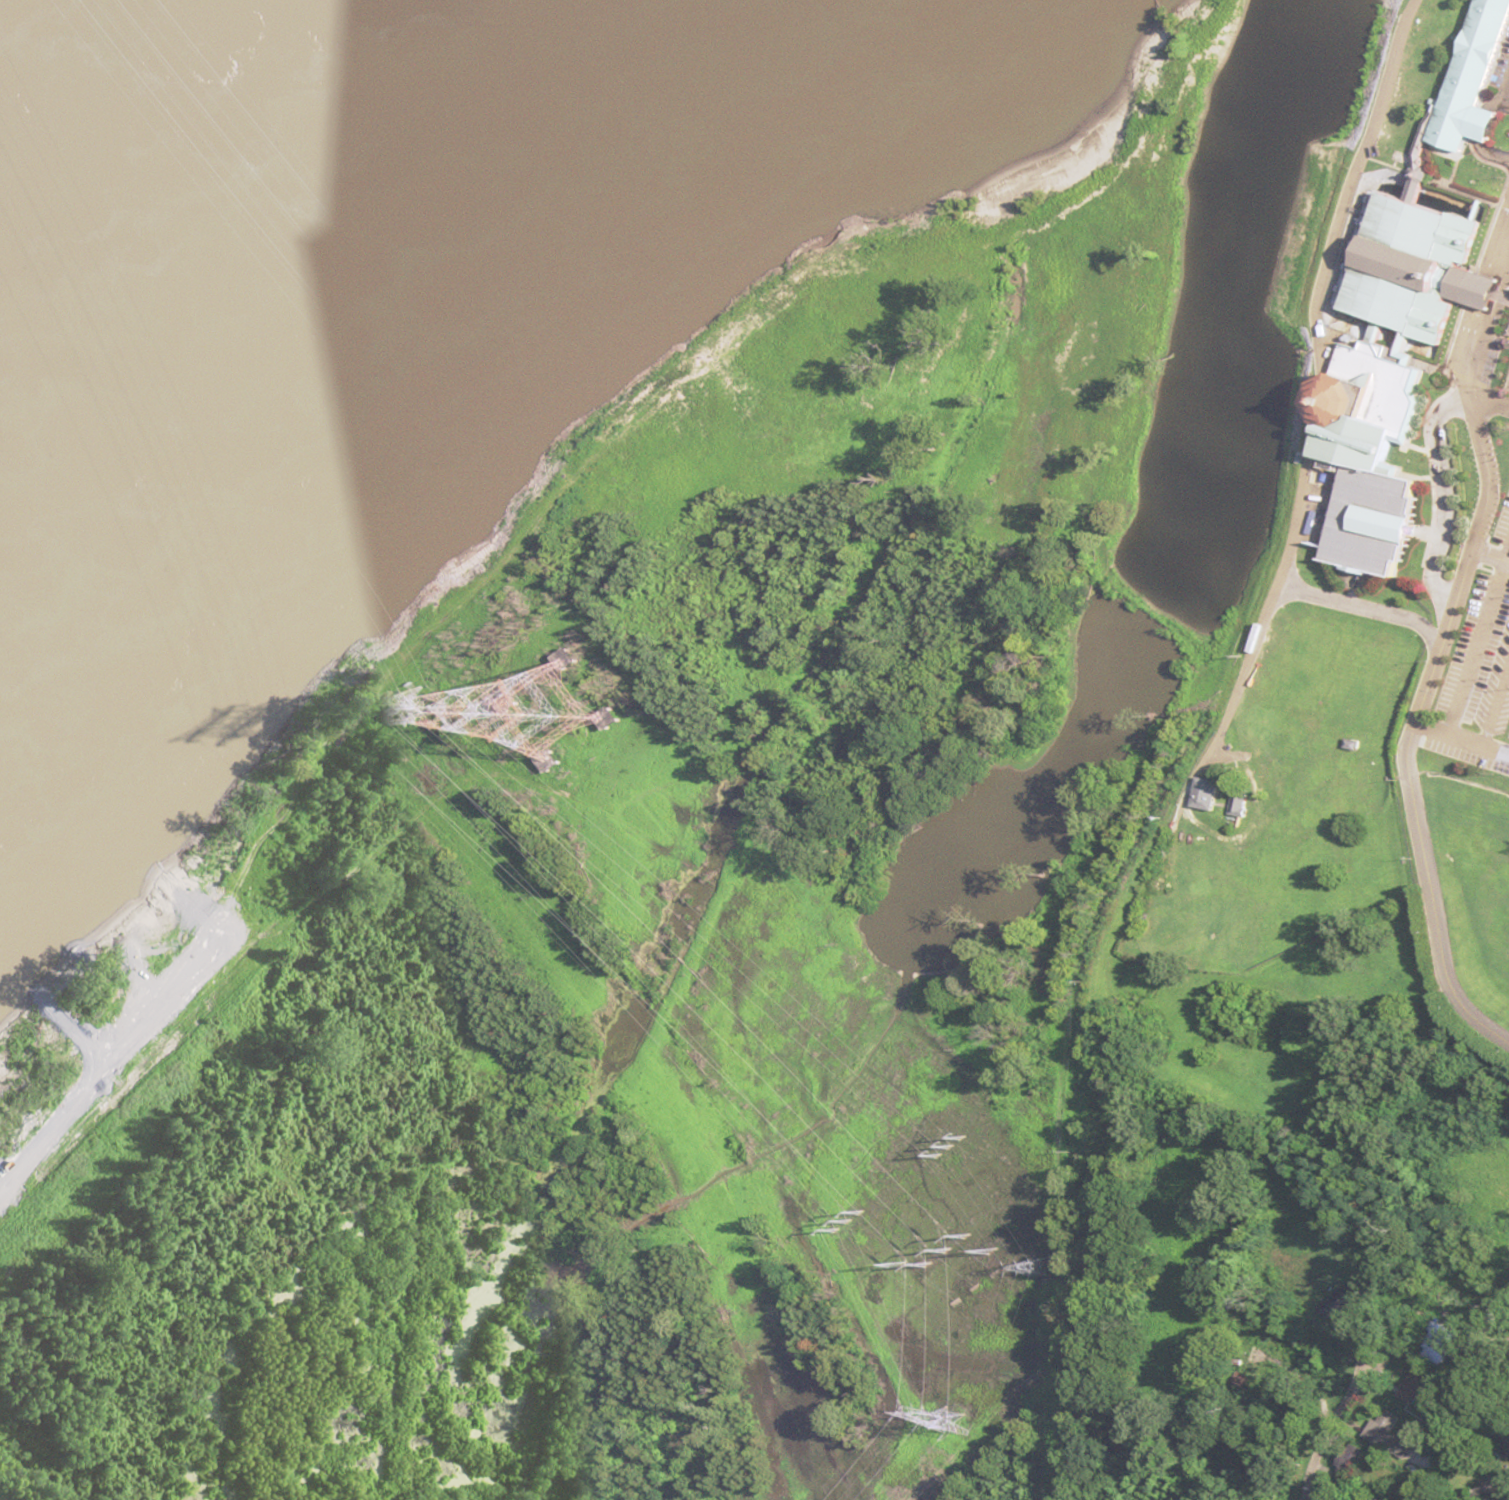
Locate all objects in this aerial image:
building: (1470, 98)
building: (1396, 373)
power tower: (567, 714)
road: (1412, 789)
building: (1211, 794)
power tower: (954, 1250)
power tower: (949, 1420)
building: (1390, 1436)
building: (1350, 1464)
building: (1488, 1492)

